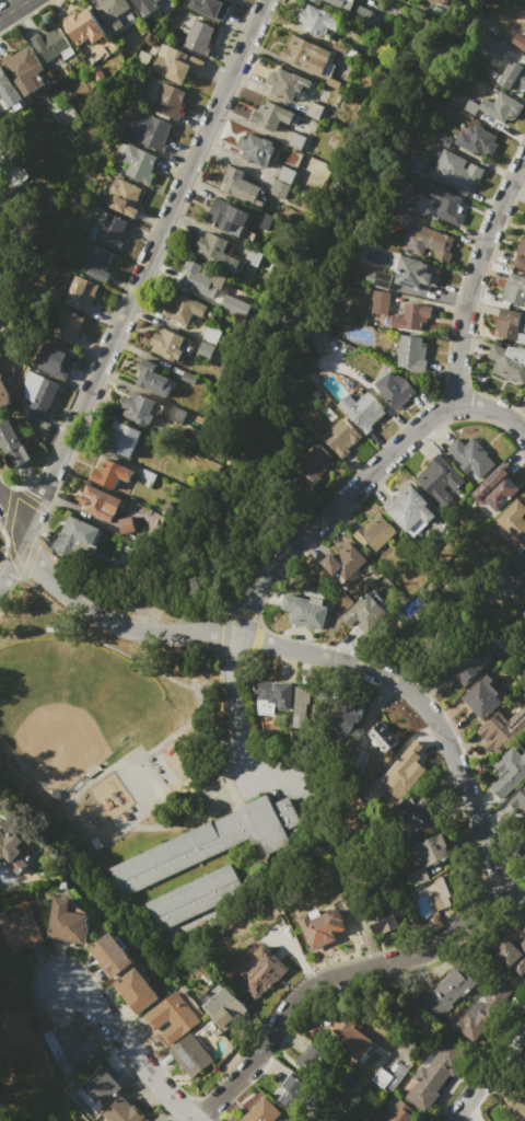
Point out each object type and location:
building: (337, 3)
building: (144, 5)
building: (210, 7)
road: (13, 8)
building: (114, 12)
building: (362, 14)
building: (313, 20)
building: (84, 26)
building: (198, 37)
building: (518, 42)
building: (52, 45)
building: (492, 48)
building: (307, 56)
building: (21, 61)
building: (175, 65)
building: (33, 79)
building: (513, 79)
building: (288, 84)
building: (7, 90)
building: (168, 102)
building: (495, 107)
building: (314, 111)
building: (271, 115)
building: (148, 130)
building: (295, 140)
building: (475, 140)
building: (256, 150)
building: (137, 162)
building: (456, 172)
building: (285, 175)
building: (240, 186)
building: (278, 189)
building: (125, 197)
building: (439, 200)
building: (401, 210)
building: (226, 217)
building: (110, 230)
building: (425, 243)
building: (210, 246)
building: (520, 255)
building: (253, 256)
building: (96, 263)
building: (229, 264)
building: (415, 273)
road: (474, 277)
building: (199, 279)
building: (514, 289)
building: (80, 294)
road: (138, 296)
building: (378, 301)
building: (234, 305)
building: (183, 308)
building: (411, 316)
building: (506, 324)
building: (67, 326)
building: (211, 335)
building: (313, 343)
building: (167, 345)
building: (205, 350)
building: (411, 351)
building: (52, 359)
building: (509, 362)
building: (188, 378)
building: (153, 380)
building: (395, 389)
building: (3, 394)
building: (36, 395)
building: (138, 409)
building: (362, 409)
road: (494, 412)
building: (177, 415)
building: (340, 437)
building: (121, 439)
building: (11, 444)
building: (470, 457)
building: (310, 465)
building: (108, 474)
building: (147, 477)
building: (437, 481)
building: (495, 489)
building: (98, 502)
road: (334, 506)
building: (411, 511)
building: (514, 521)
building: (124, 525)
road: (13, 527)
building: (75, 532)
building: (373, 533)
building: (342, 562)
building: (520, 583)
building: (303, 611)
building: (362, 612)
building: (523, 614)
building: (524, 622)
road: (317, 654)
building: (466, 663)
building: (272, 696)
building: (480, 697)
road: (240, 705)
building: (302, 706)
building: (345, 715)
building: (504, 727)
building: (383, 737)
building: (362, 760)
building: (402, 772)
building: (507, 772)
building: (377, 789)
building: (518, 801)
building: (418, 809)
building: (207, 843)
building: (10, 846)
building: (433, 851)
building: (416, 877)
building: (443, 893)
building: (192, 898)
building: (382, 921)
building: (67, 922)
building: (322, 926)
building: (17, 928)
building: (524, 936)
building: (109, 955)
building: (511, 955)
building: (262, 971)
road: (341, 979)
building: (136, 990)
building: (448, 991)
building: (225, 1008)
building: (171, 1017)
building: (474, 1020)
building: (348, 1035)
building: (69, 1043)
road: (135, 1049)
building: (191, 1055)
building: (307, 1056)
road: (488, 1071)
building: (433, 1075)
building: (388, 1077)
building: (346, 1085)
building: (101, 1086)
building: (293, 1094)
building: (517, 1107)
building: (261, 1111)
building: (122, 1112)
building: (399, 1112)
building: (375, 1119)
building: (148, 1120)

